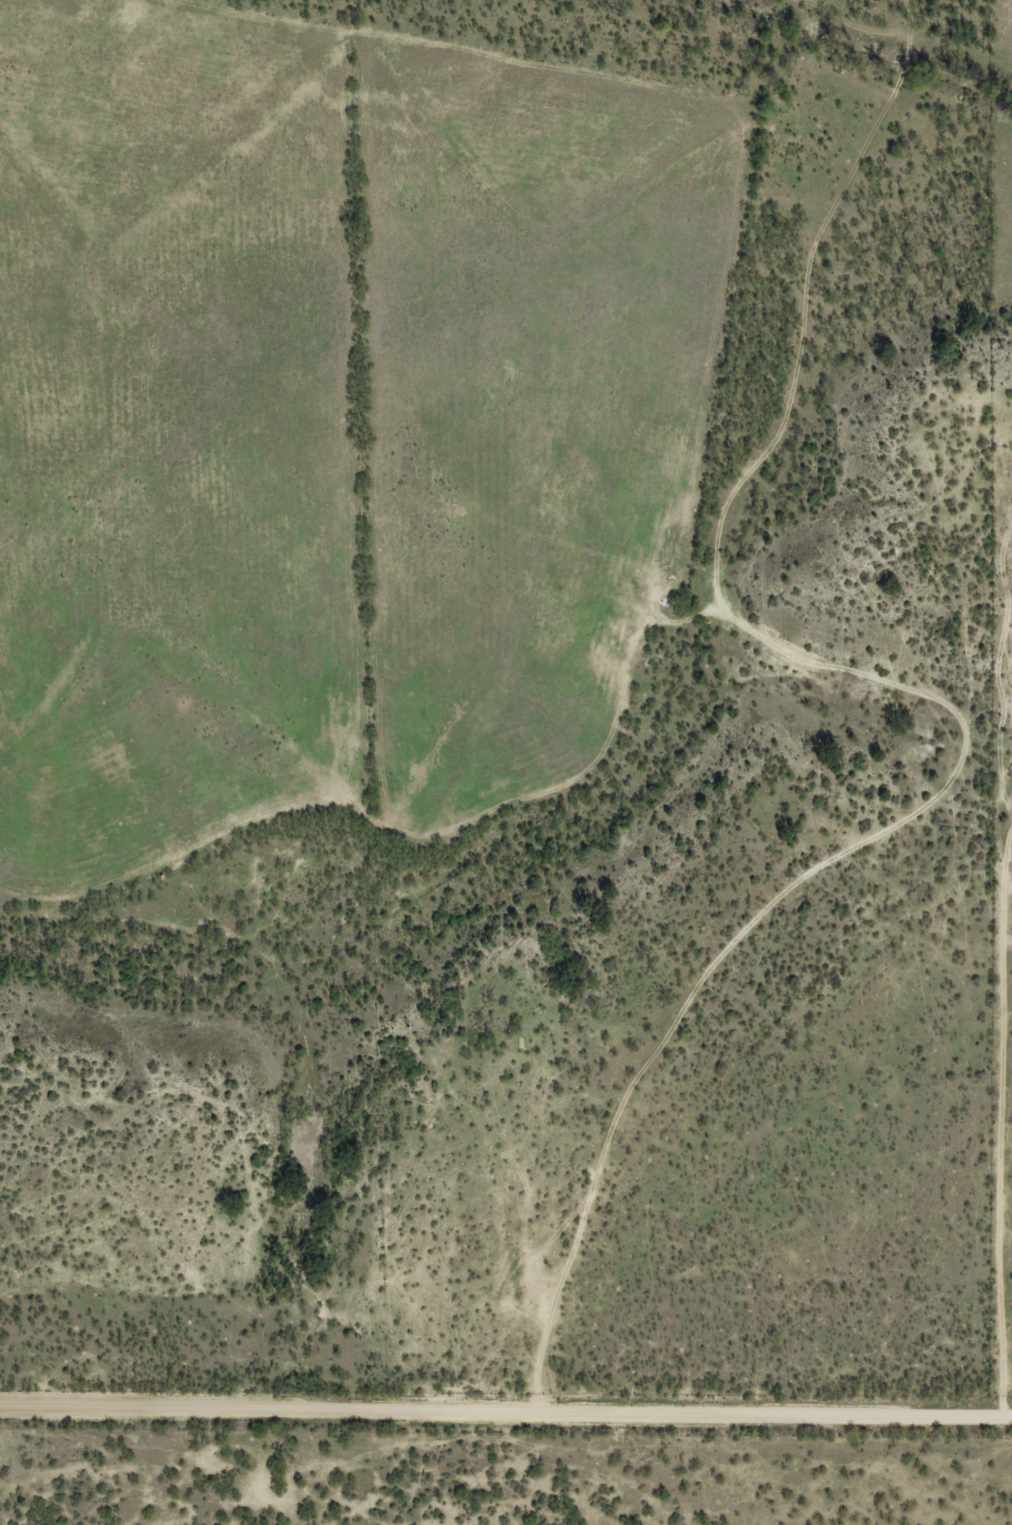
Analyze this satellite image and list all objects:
road: (949, 709)
road: (505, 1422)

